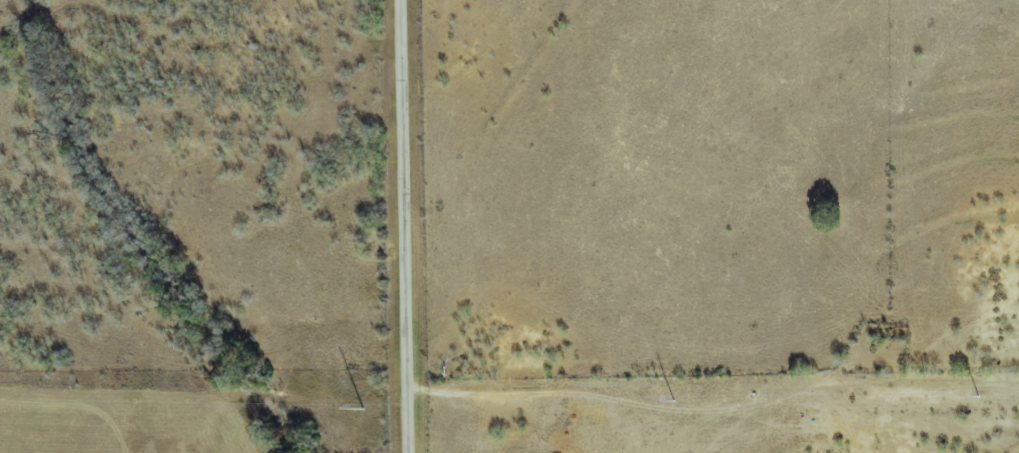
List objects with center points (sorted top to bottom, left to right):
road: (404, 226)
power tower: (976, 397)
power tower: (673, 402)
power tower: (363, 409)

